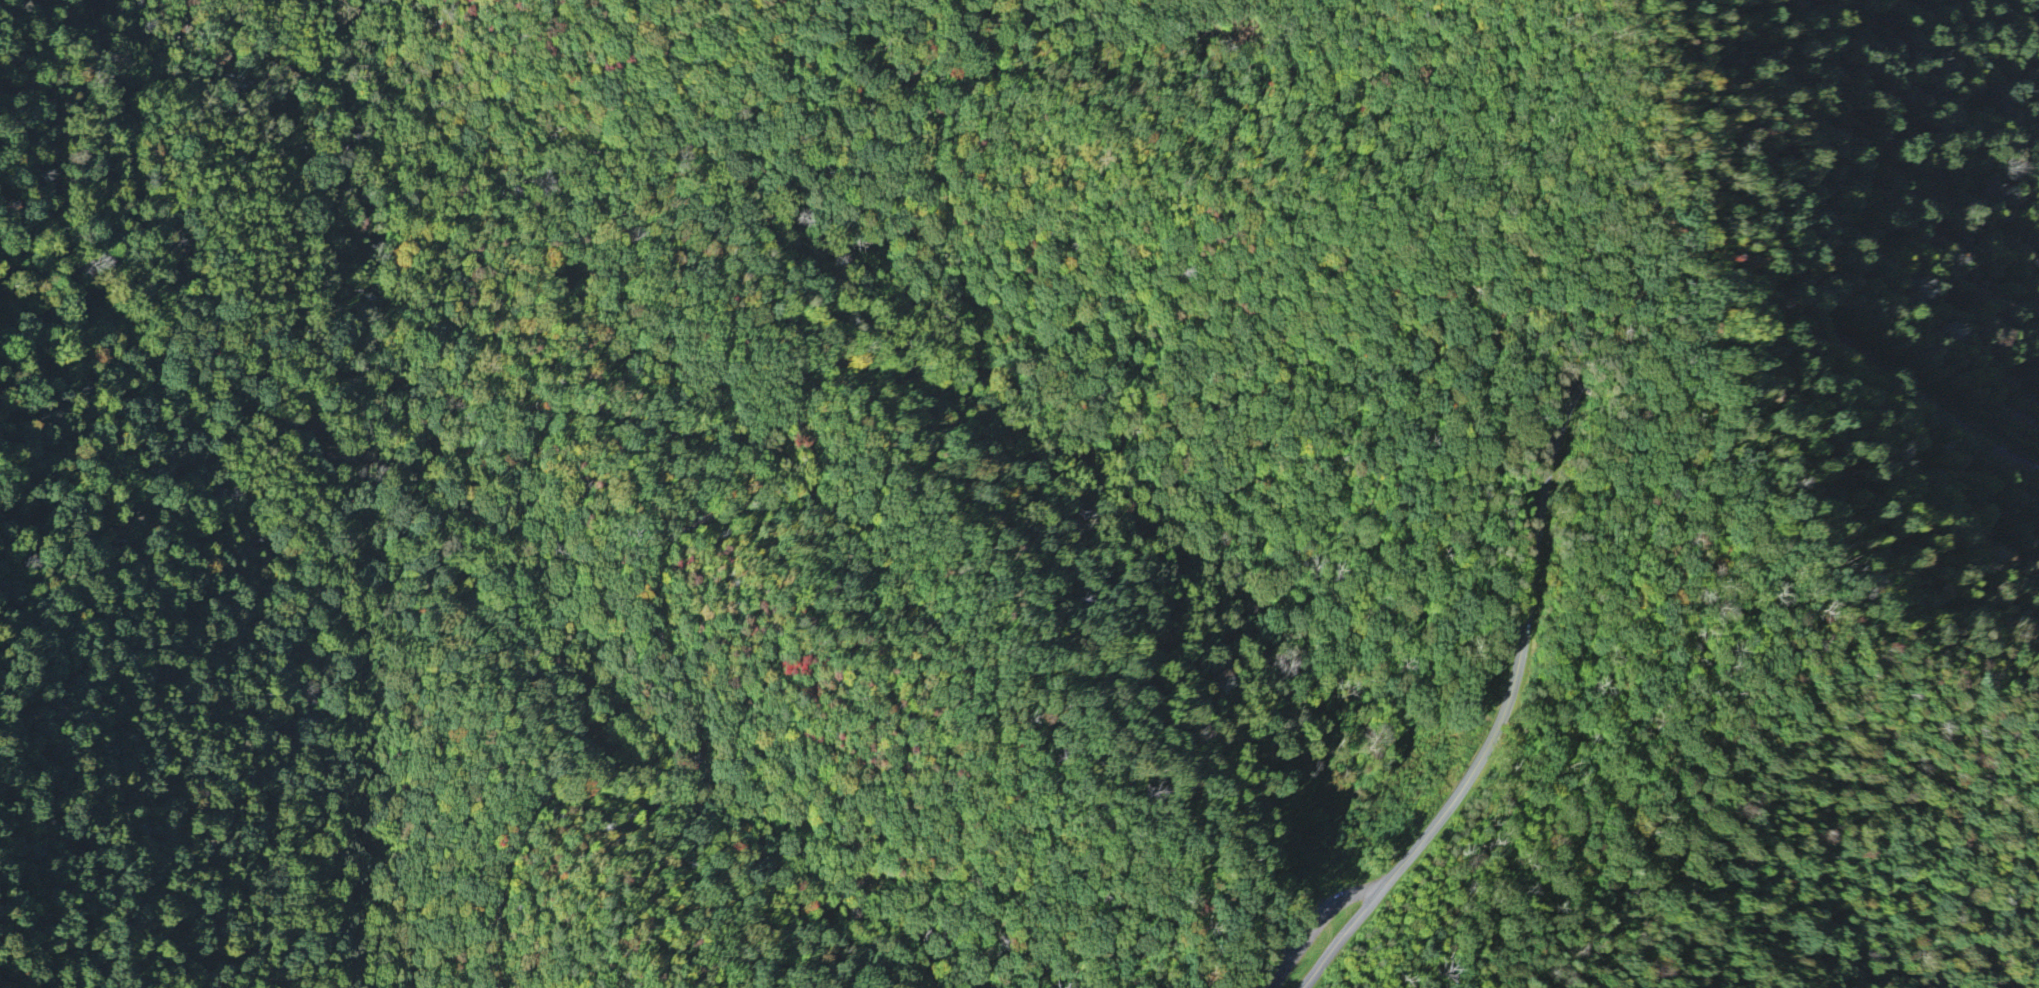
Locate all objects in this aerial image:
road: (727, 329)
road: (1972, 426)
road: (1482, 759)
road: (1838, 866)
road: (1312, 914)
parking lot: (1313, 914)

